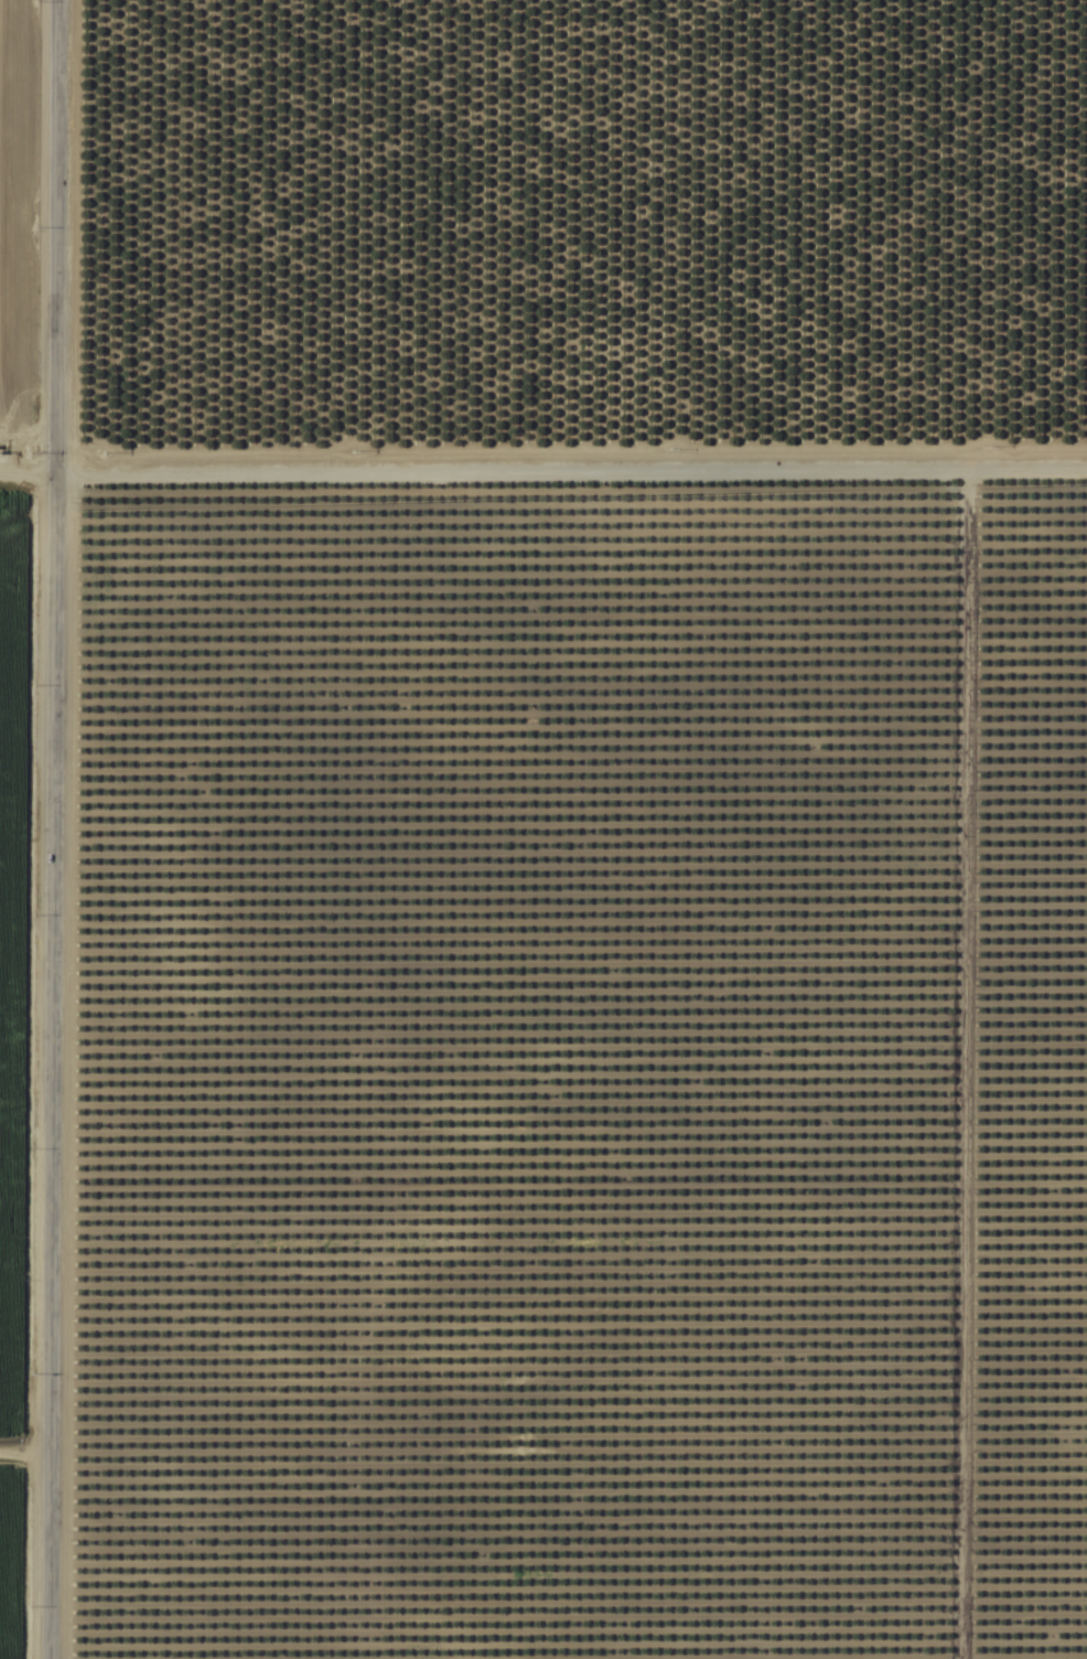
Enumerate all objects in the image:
road: (566, 500)
road: (21, 566)
road: (43, 828)

